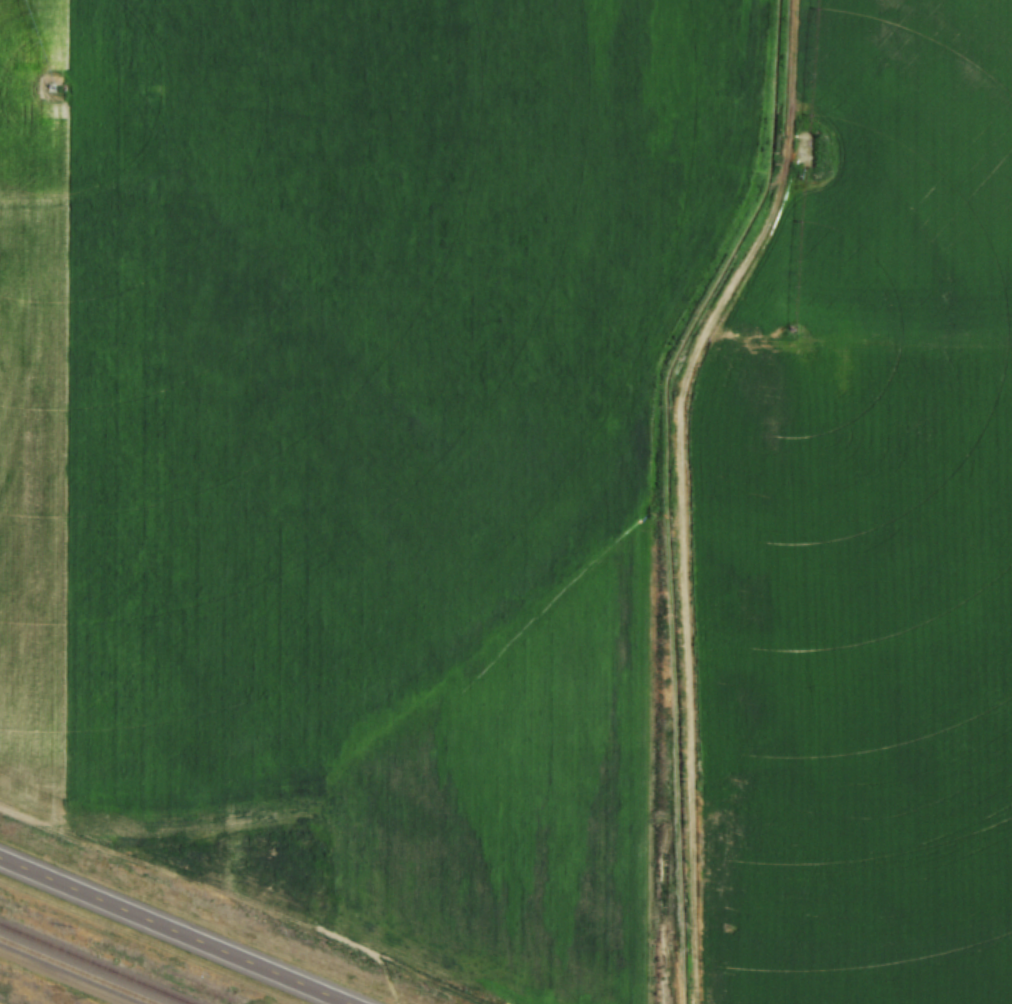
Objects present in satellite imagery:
road: (176, 930)
railway: (96, 963)
railway: (78, 971)

